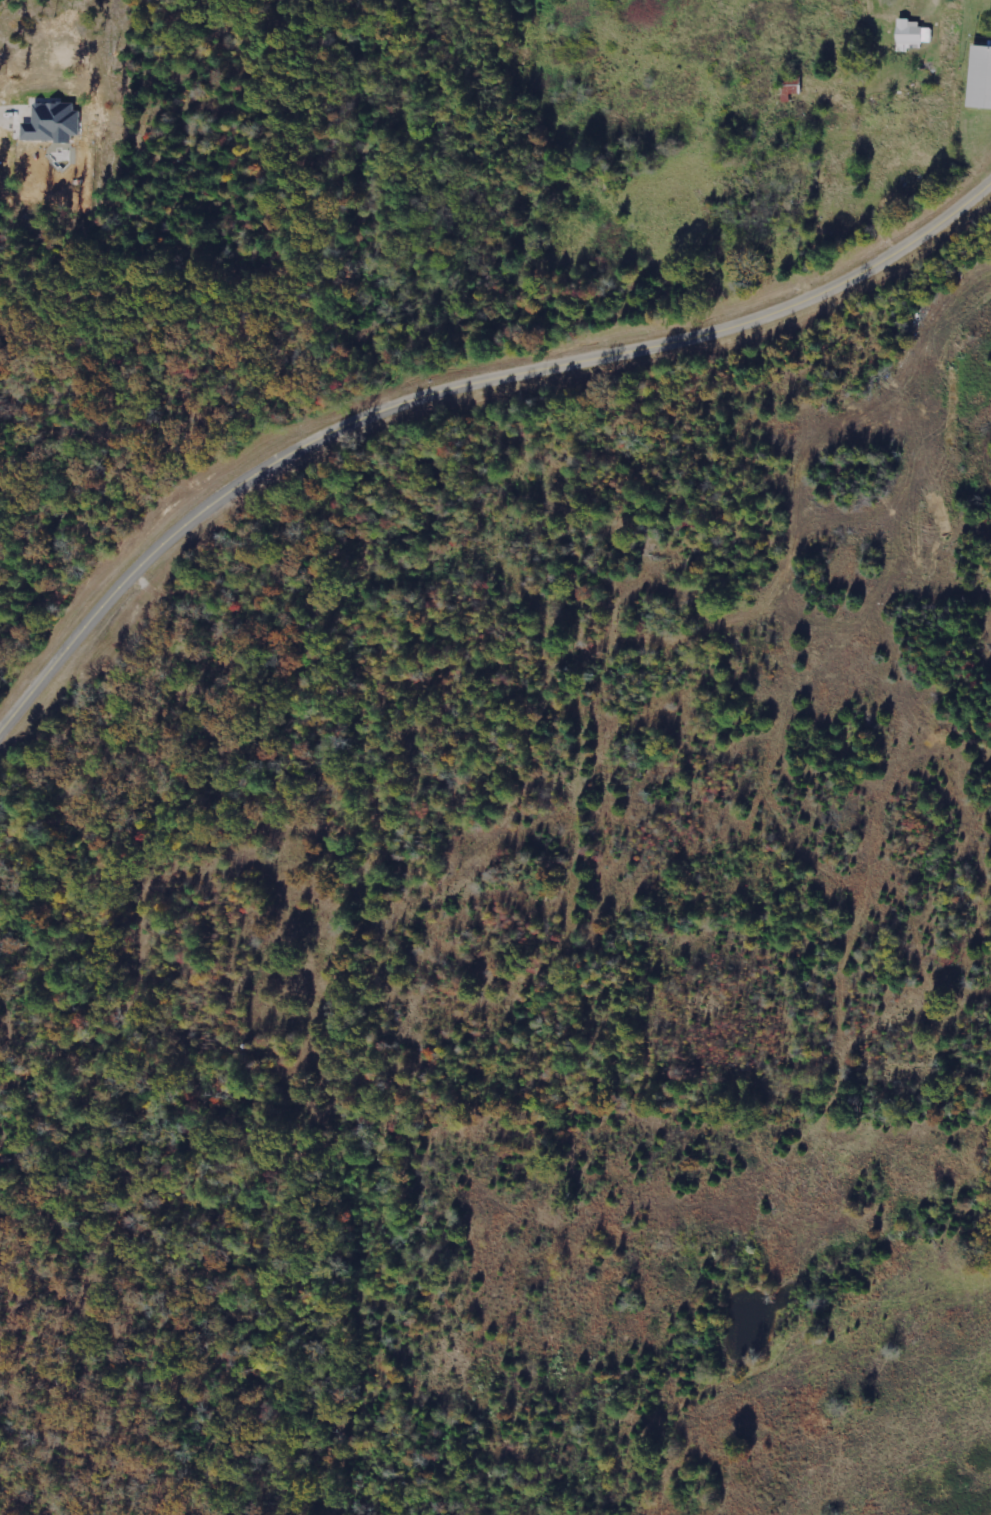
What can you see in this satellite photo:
building: (914, 34)
building: (982, 77)
building: (55, 121)
road: (454, 387)

